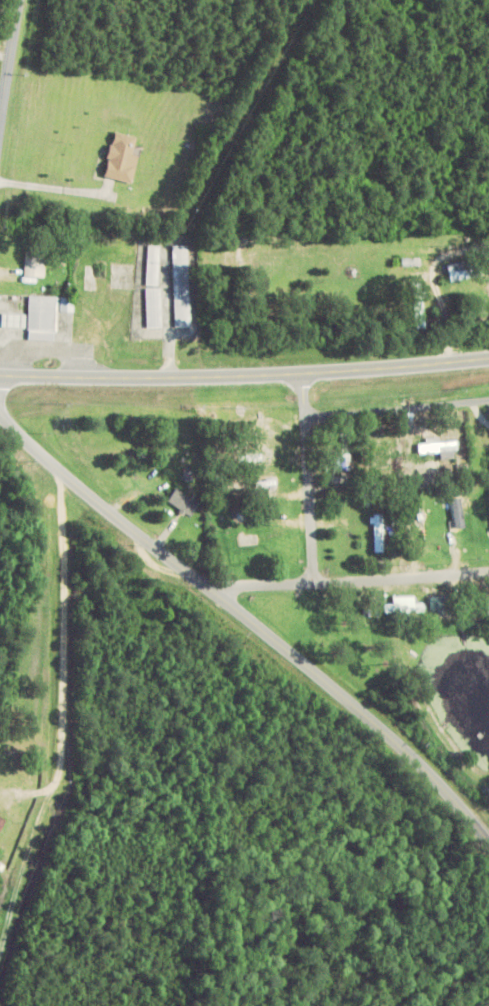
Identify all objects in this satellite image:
road: (9, 68)
building: (122, 159)
building: (34, 264)
building: (154, 266)
building: (459, 272)
building: (183, 287)
building: (418, 306)
building: (154, 309)
building: (42, 318)
building: (11, 322)
road: (244, 375)
road: (398, 408)
building: (343, 450)
building: (439, 450)
building: (462, 471)
road: (310, 476)
building: (184, 503)
building: (458, 514)
building: (380, 534)
road: (350, 579)
building: (435, 605)
building: (409, 608)
road: (249, 620)
building: (1, 823)

